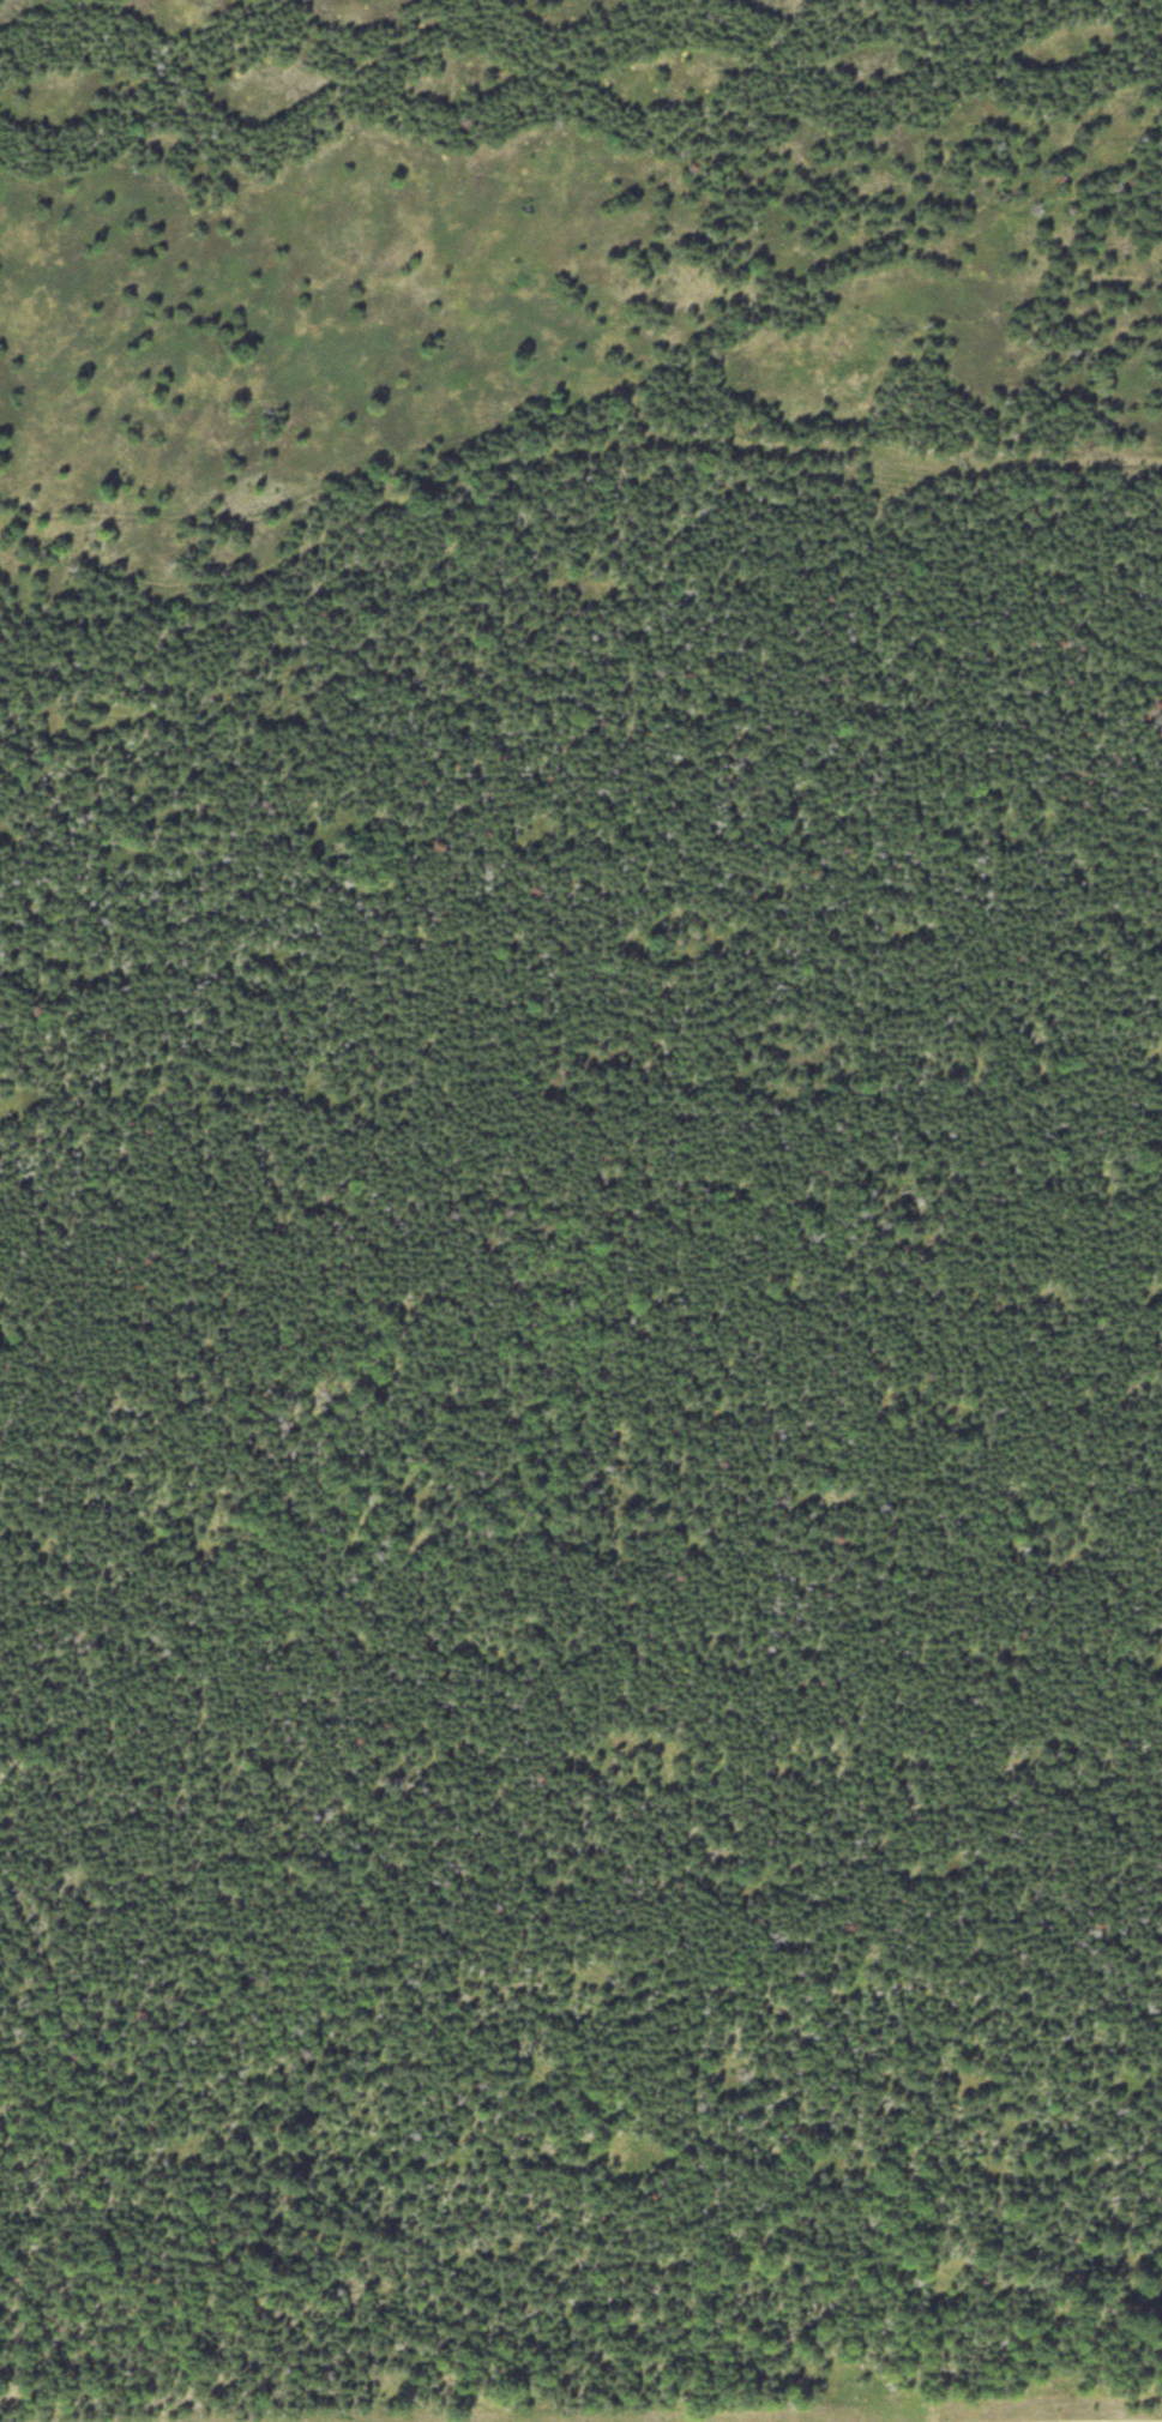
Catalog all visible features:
road: (1079, 485)

